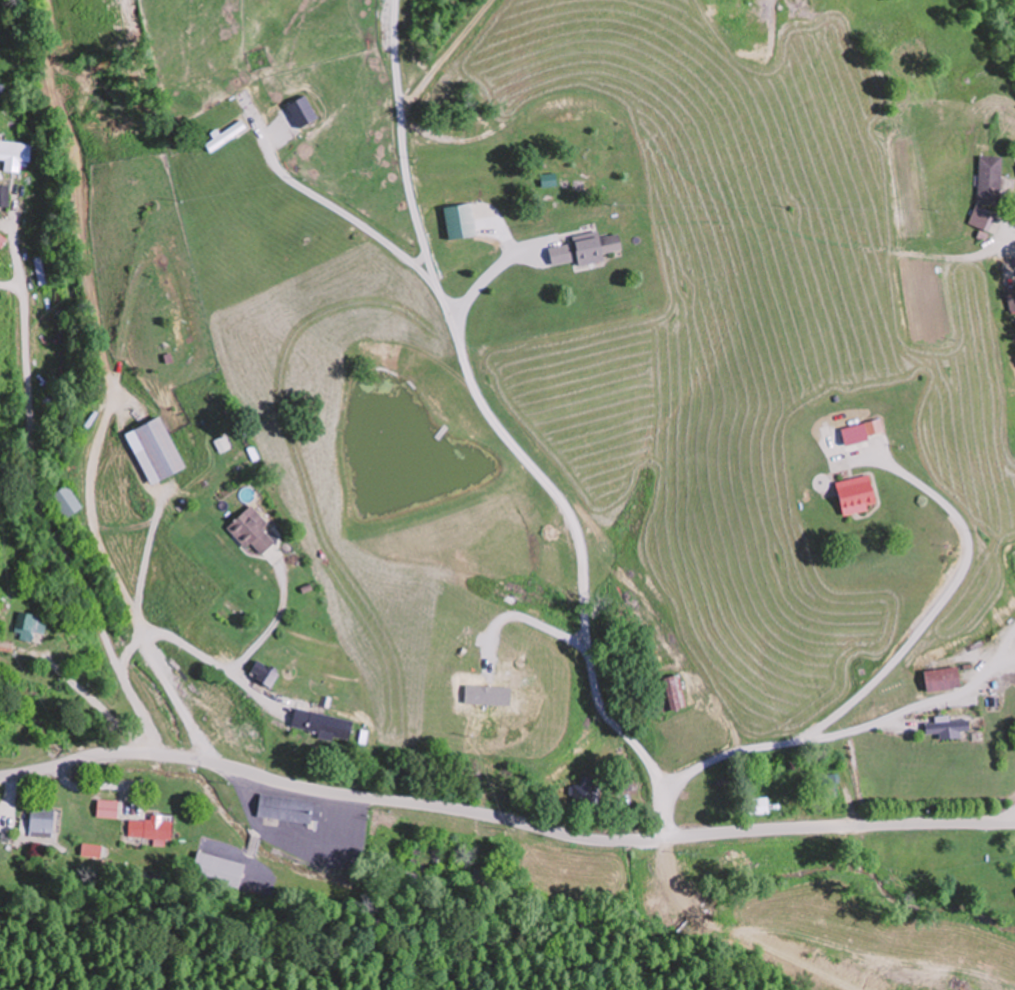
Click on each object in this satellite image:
road: (980, 53)
building: (228, 136)
building: (16, 155)
building: (991, 179)
building: (554, 180)
building: (5, 197)
building: (38, 199)
building: (983, 218)
road: (353, 219)
building: (464, 223)
building: (592, 249)
building: (176, 325)
building: (47, 394)
road: (103, 422)
road: (505, 435)
building: (162, 451)
building: (860, 493)
road: (33, 506)
building: (255, 530)
building: (35, 624)
building: (269, 673)
building: (945, 678)
building: (678, 692)
road: (839, 711)
building: (327, 723)
building: (950, 725)
road: (33, 770)
building: (837, 782)
building: (588, 790)
building: (765, 805)
building: (109, 808)
building: (289, 808)
building: (44, 821)
building: (152, 826)
road: (537, 829)
building: (425, 855)
building: (221, 870)
building: (478, 877)

